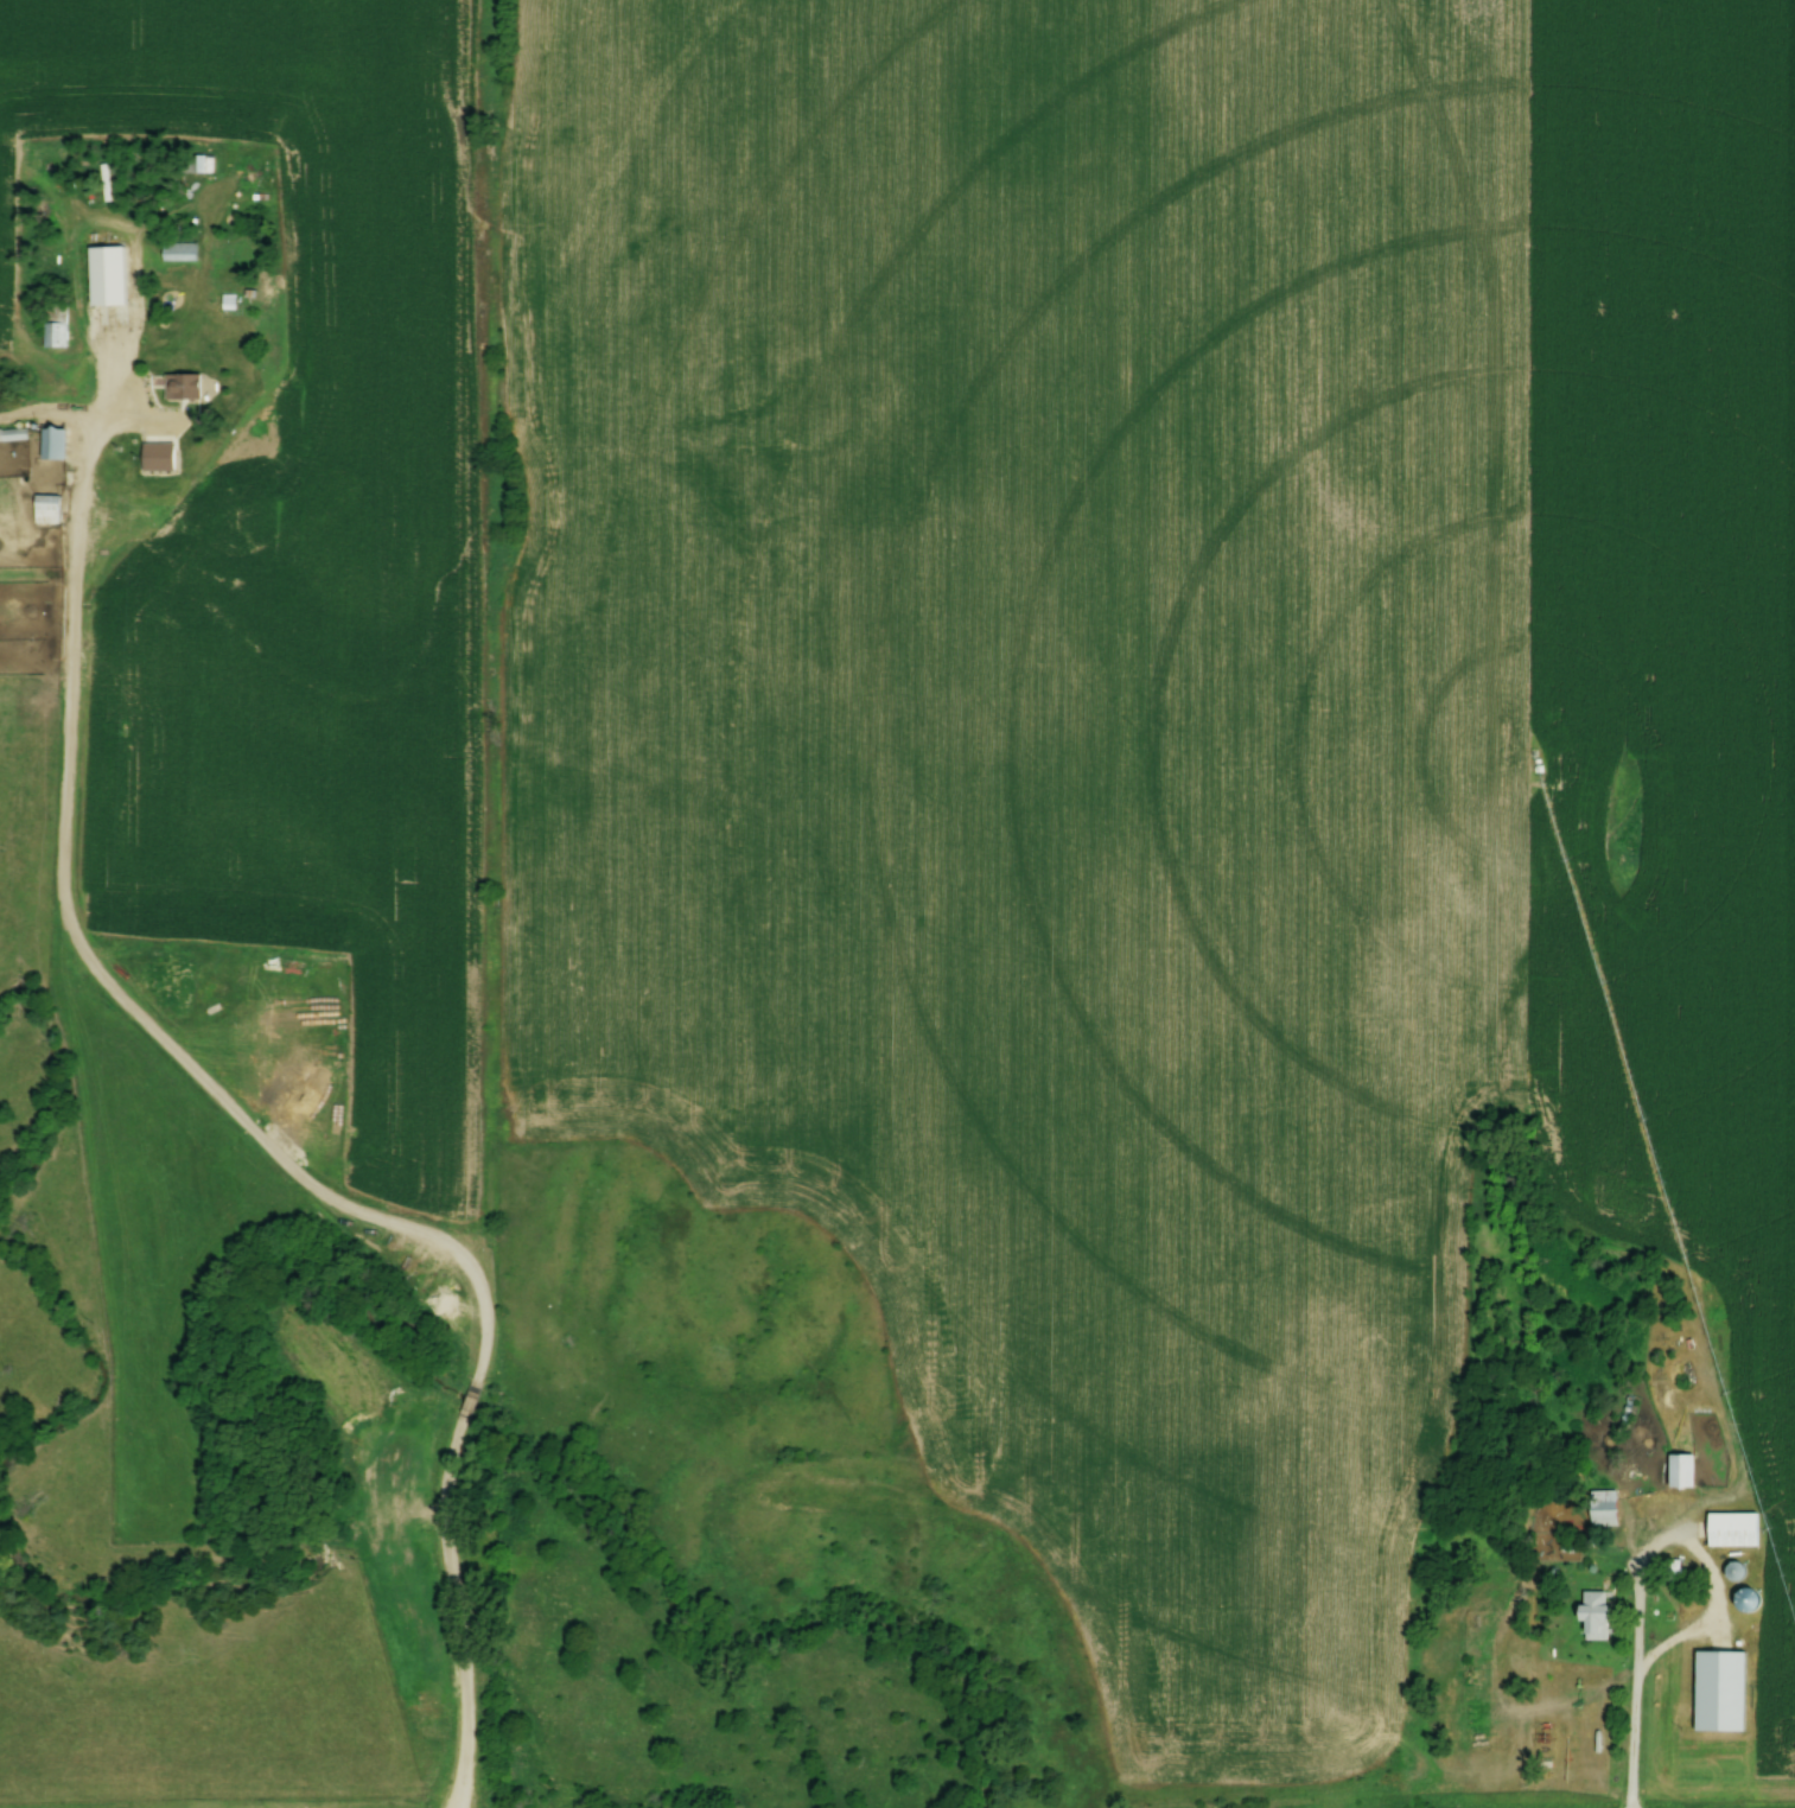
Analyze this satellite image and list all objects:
building: (196, 165)
building: (96, 217)
building: (177, 253)
building: (113, 324)
building: (53, 326)
building: (180, 387)
building: (50, 444)
building: (160, 454)
building: (43, 509)
road: (231, 1103)
building: (1678, 1472)
building: (1599, 1509)
building: (1729, 1532)
building: (1591, 1613)
road: (1631, 1654)

